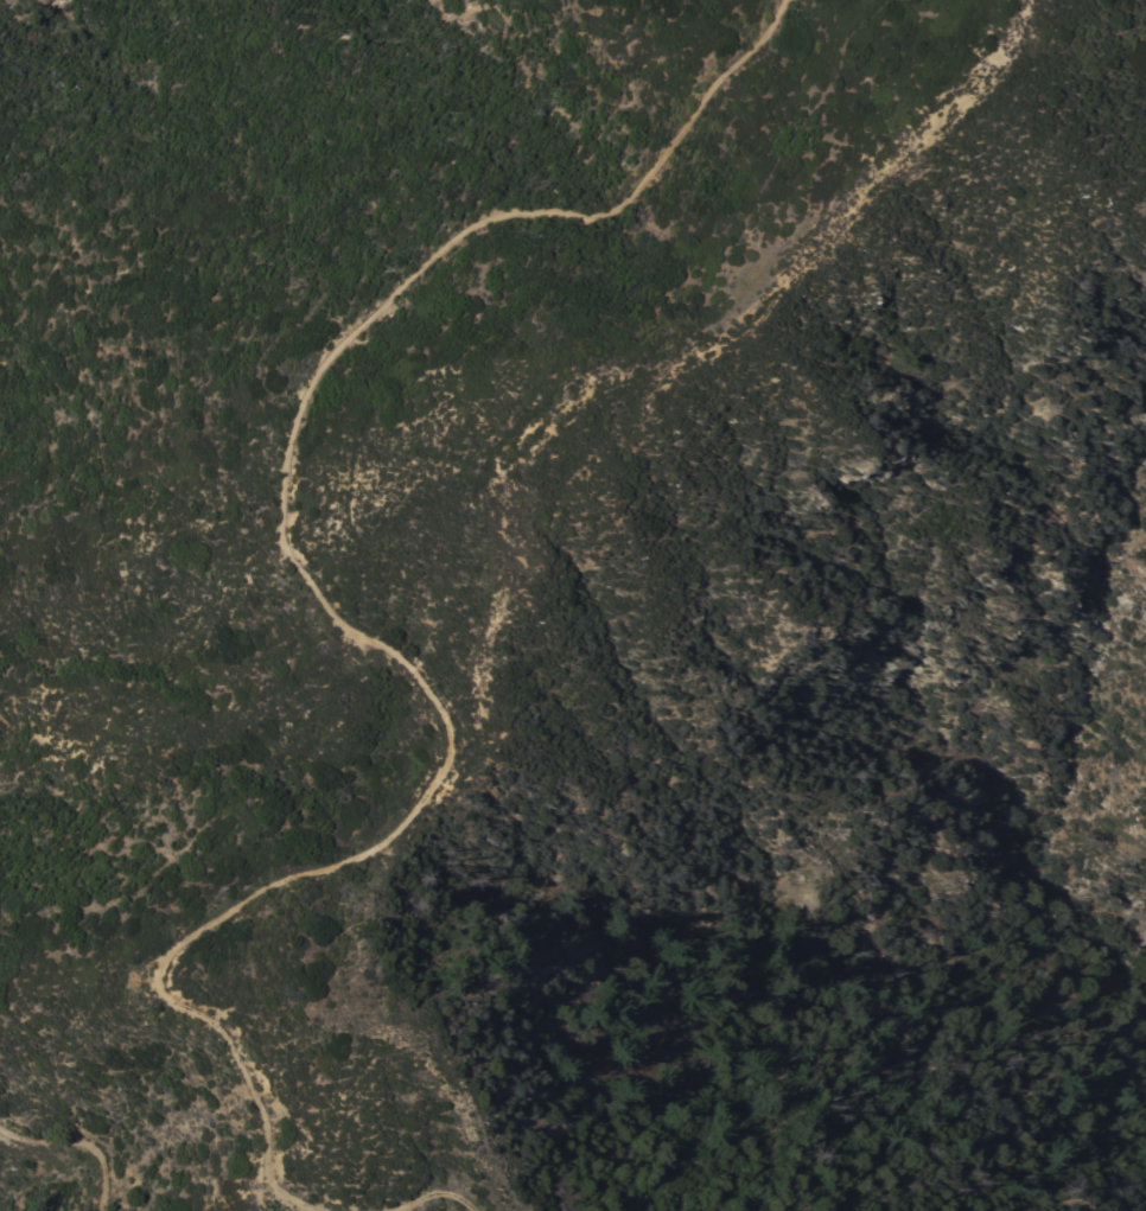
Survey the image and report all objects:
road: (340, 625)
road: (97, 1133)
road: (425, 1190)

